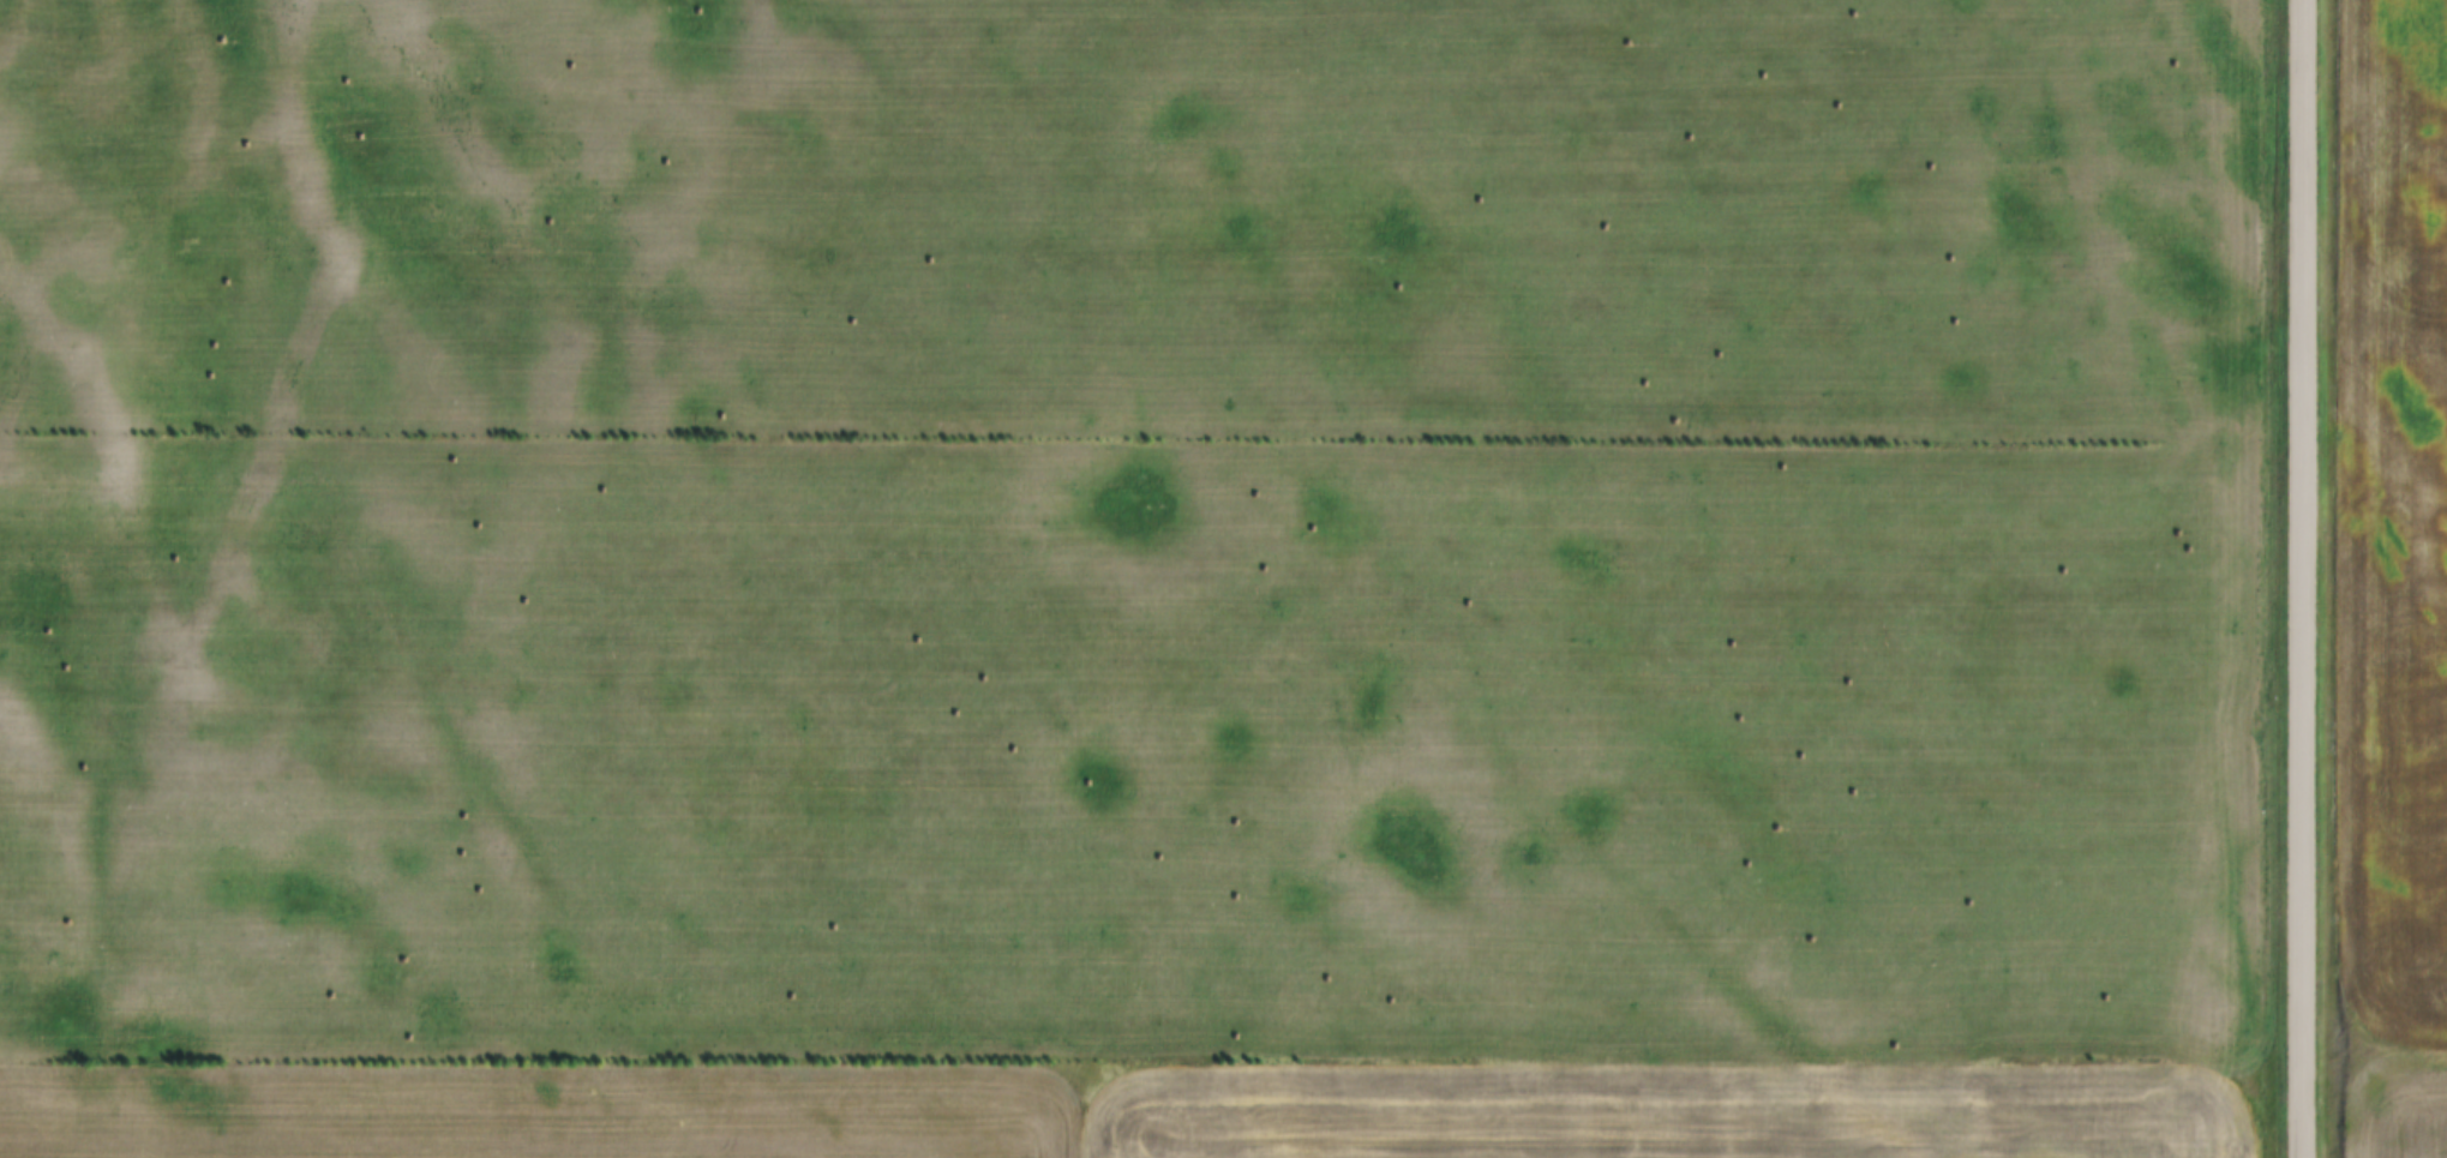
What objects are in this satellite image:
road: (2307, 578)

